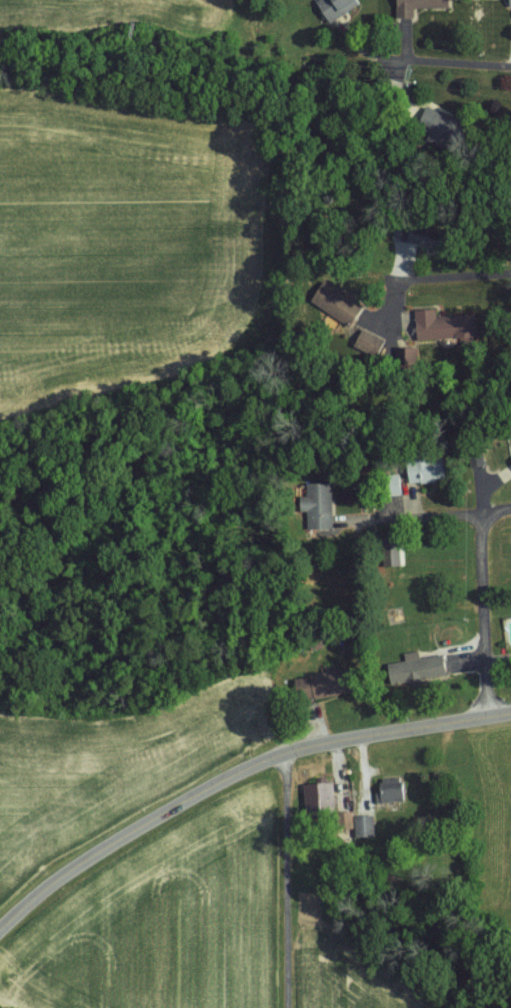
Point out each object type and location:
building: (510, 2)
building: (417, 6)
building: (336, 7)
road: (455, 65)
building: (439, 123)
road: (475, 283)
building: (336, 303)
building: (444, 324)
building: (369, 341)
building: (426, 470)
building: (318, 504)
road: (498, 512)
road: (421, 515)
building: (395, 554)
road: (486, 616)
building: (417, 667)
building: (319, 684)
road: (231, 772)
building: (390, 789)
building: (319, 795)
building: (347, 819)
building: (364, 825)
road: (288, 882)

